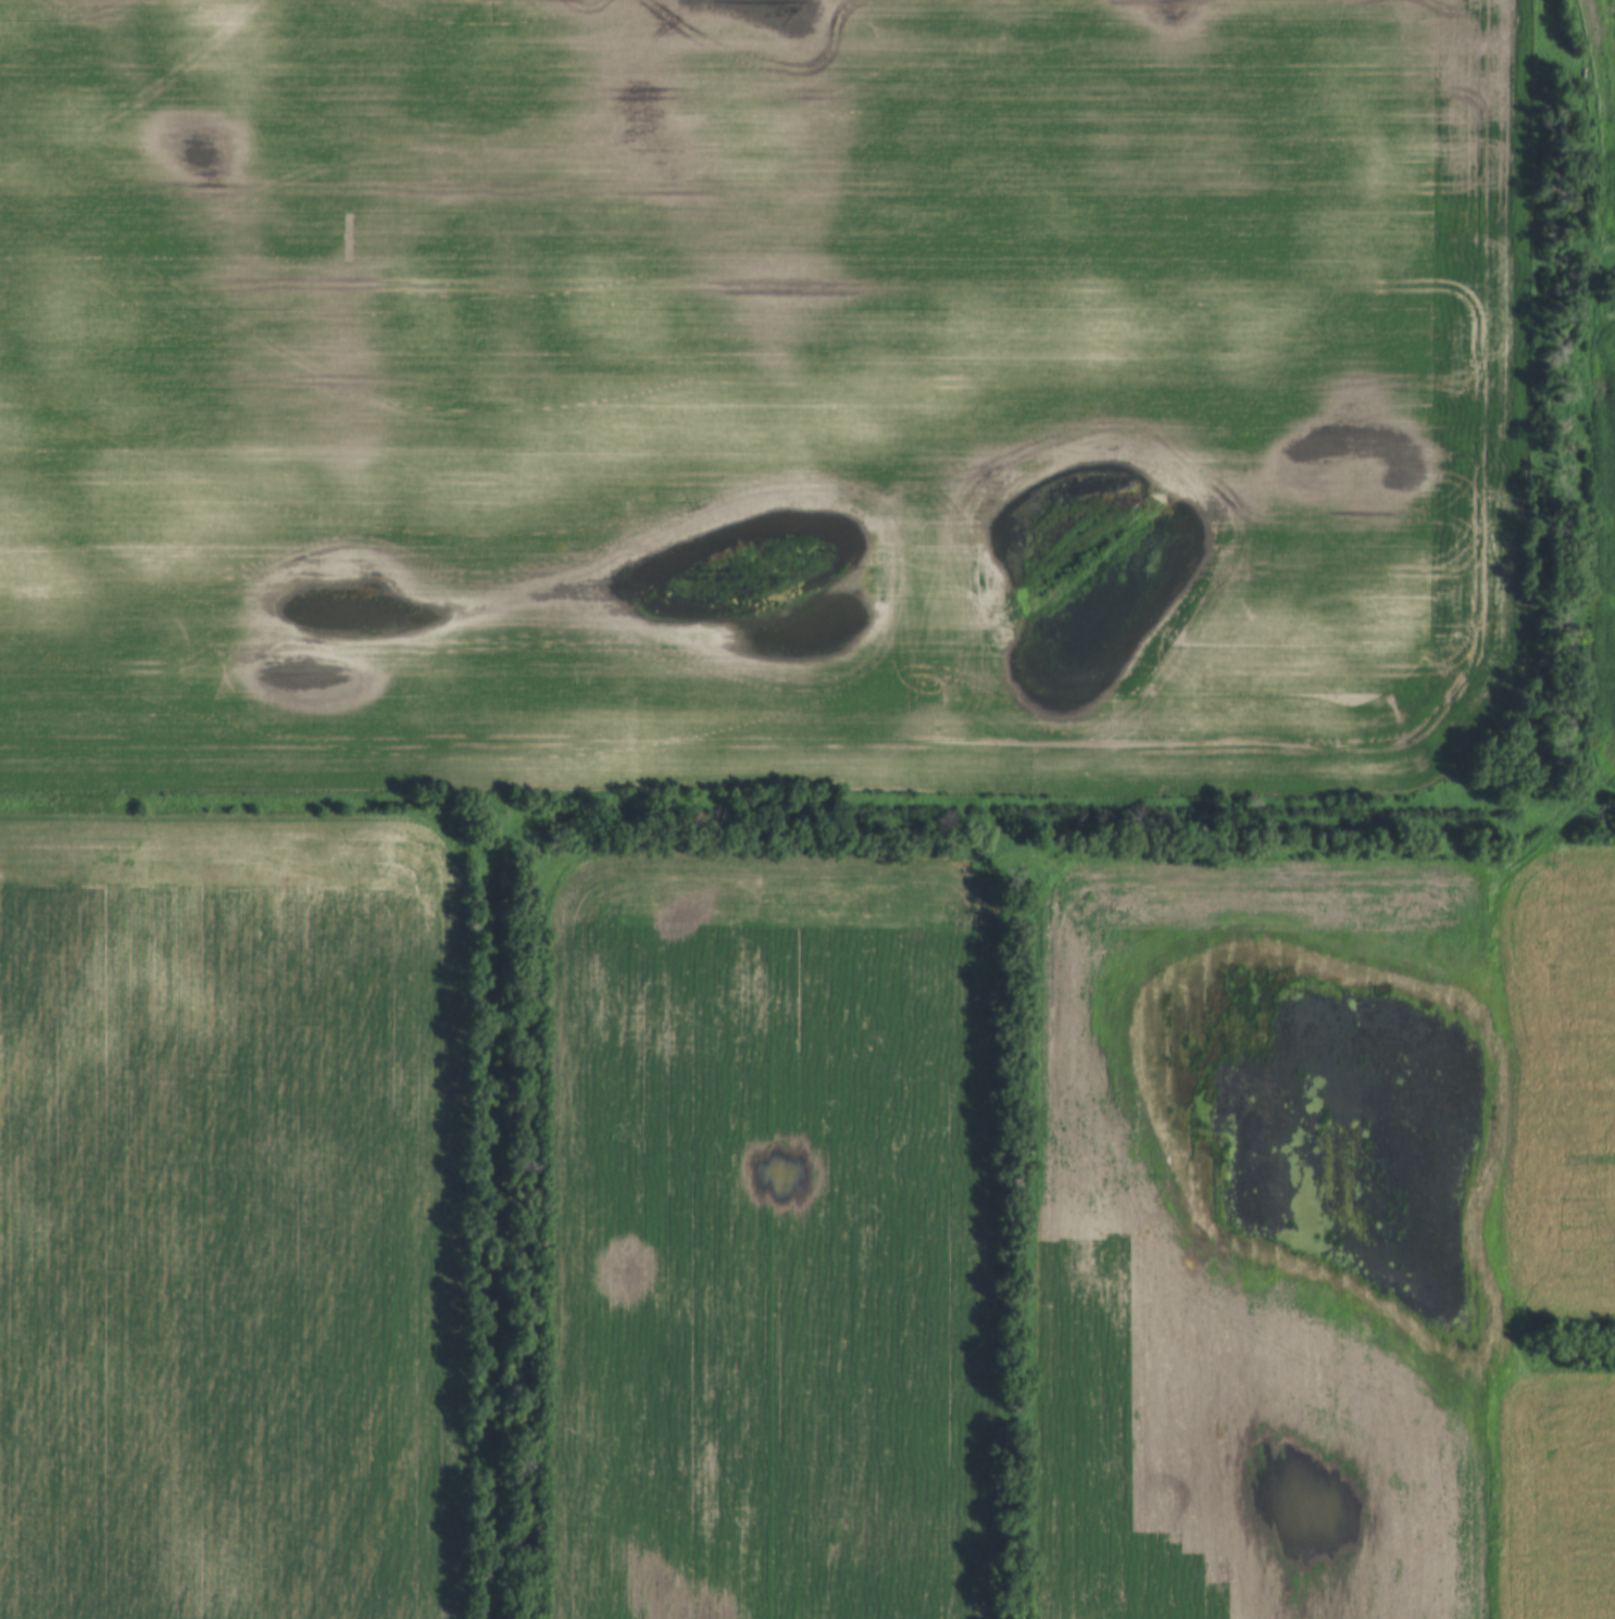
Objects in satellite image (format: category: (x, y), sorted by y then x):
road: (499, 966)

